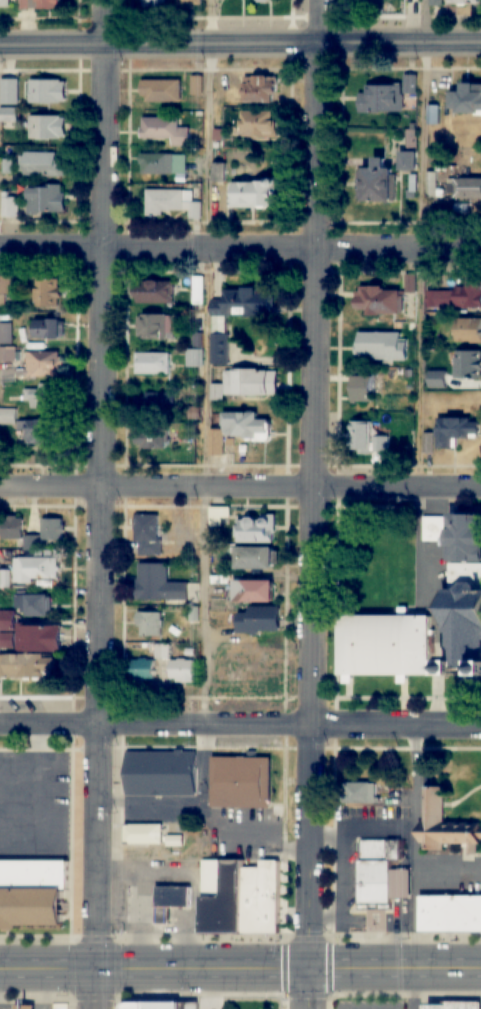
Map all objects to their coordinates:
building: (438, 0)
building: (265, 1)
building: (189, 2)
building: (4, 3)
building: (152, 3)
building: (462, 3)
building: (45, 4)
road: (320, 22)
road: (240, 44)
road: (0, 79)
building: (258, 89)
building: (160, 90)
building: (48, 91)
building: (385, 96)
building: (466, 99)
building: (9, 115)
building: (258, 124)
building: (47, 127)
building: (165, 130)
building: (412, 141)
building: (408, 161)
building: (42, 164)
building: (163, 164)
building: (221, 170)
building: (413, 182)
building: (375, 183)
building: (432, 184)
building: (464, 188)
building: (257, 193)
building: (411, 195)
building: (46, 198)
building: (172, 201)
building: (12, 204)
road: (423, 243)
road: (240, 250)
building: (7, 283)
building: (411, 284)
building: (198, 288)
building: (47, 291)
building: (154, 291)
building: (456, 296)
building: (3, 299)
building: (378, 300)
building: (239, 314)
building: (153, 326)
building: (49, 327)
building: (466, 329)
building: (7, 332)
building: (198, 339)
building: (382, 346)
building: (10, 353)
building: (195, 357)
building: (152, 362)
road: (208, 362)
building: (45, 363)
building: (468, 364)
building: (252, 380)
road: (314, 384)
building: (363, 388)
building: (219, 390)
building: (40, 394)
building: (156, 400)
building: (192, 412)
building: (8, 414)
building: (247, 423)
building: (39, 429)
building: (454, 430)
building: (151, 437)
building: (367, 438)
building: (217, 439)
building: (230, 439)
building: (428, 444)
road: (240, 487)
road: (102, 504)
building: (221, 515)
building: (13, 526)
building: (53, 527)
building: (255, 528)
building: (434, 529)
building: (148, 533)
building: (464, 538)
building: (33, 541)
building: (255, 556)
building: (38, 567)
road: (428, 573)
building: (194, 576)
parking lot: (431, 577)
building: (6, 578)
building: (159, 582)
building: (250, 589)
building: (35, 603)
building: (194, 612)
building: (184, 613)
building: (258, 618)
building: (464, 618)
building: (8, 619)
building: (150, 621)
building: (176, 630)
building: (41, 637)
building: (8, 639)
building: (388, 646)
building: (163, 649)
building: (28, 664)
building: (143, 668)
building: (182, 668)
building: (440, 668)
road: (440, 668)
road: (440, 701)
road: (240, 726)
building: (161, 774)
building: (245, 783)
building: (361, 793)
road: (153, 802)
parking lot: (35, 807)
parking lot: (163, 810)
road: (45, 811)
building: (447, 825)
road: (361, 827)
road: (209, 833)
building: (144, 834)
parking lot: (243, 835)
building: (175, 841)
road: (403, 862)
road: (404, 866)
road: (309, 867)
road: (416, 867)
parking lot: (169, 871)
building: (380, 875)
road: (448, 876)
road: (196, 877)
parking lot: (452, 877)
parking lot: (347, 884)
road: (396, 885)
road: (404, 885)
building: (33, 893)
road: (140, 894)
road: (344, 894)
building: (223, 896)
building: (264, 897)
building: (171, 901)
road: (125, 907)
road: (176, 911)
road: (186, 911)
road: (404, 913)
building: (452, 914)
road: (140, 915)
road: (162, 915)
road: (180, 915)
road: (161, 927)
road: (396, 935)
road: (240, 971)
traffic signals: (308, 971)
road: (48, 990)
parking lot: (371, 1003)
building: (159, 1005)
building: (456, 1005)
building: (25, 1007)
road: (2, 1008)

